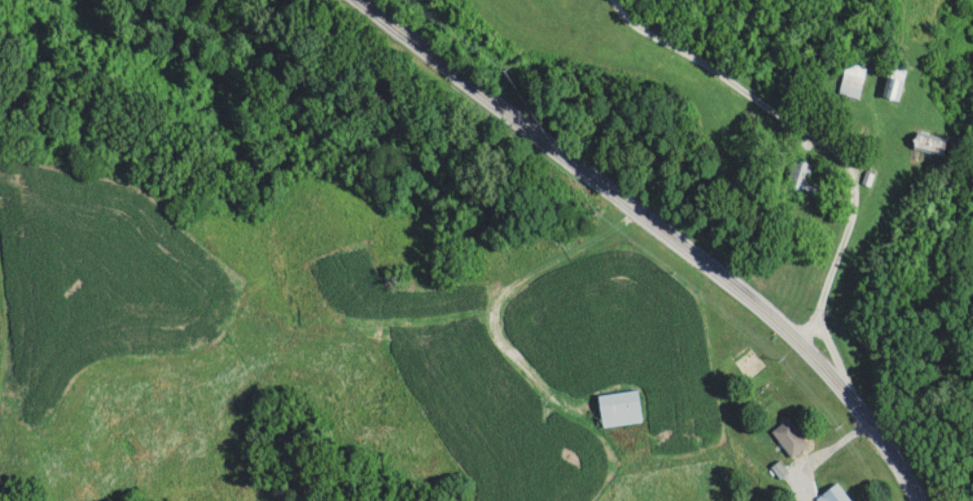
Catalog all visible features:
building: (855, 80)
building: (897, 81)
road: (809, 132)
building: (932, 143)
building: (803, 178)
road: (657, 228)
road: (834, 357)
building: (622, 409)
building: (792, 438)
road: (819, 453)
building: (837, 494)

